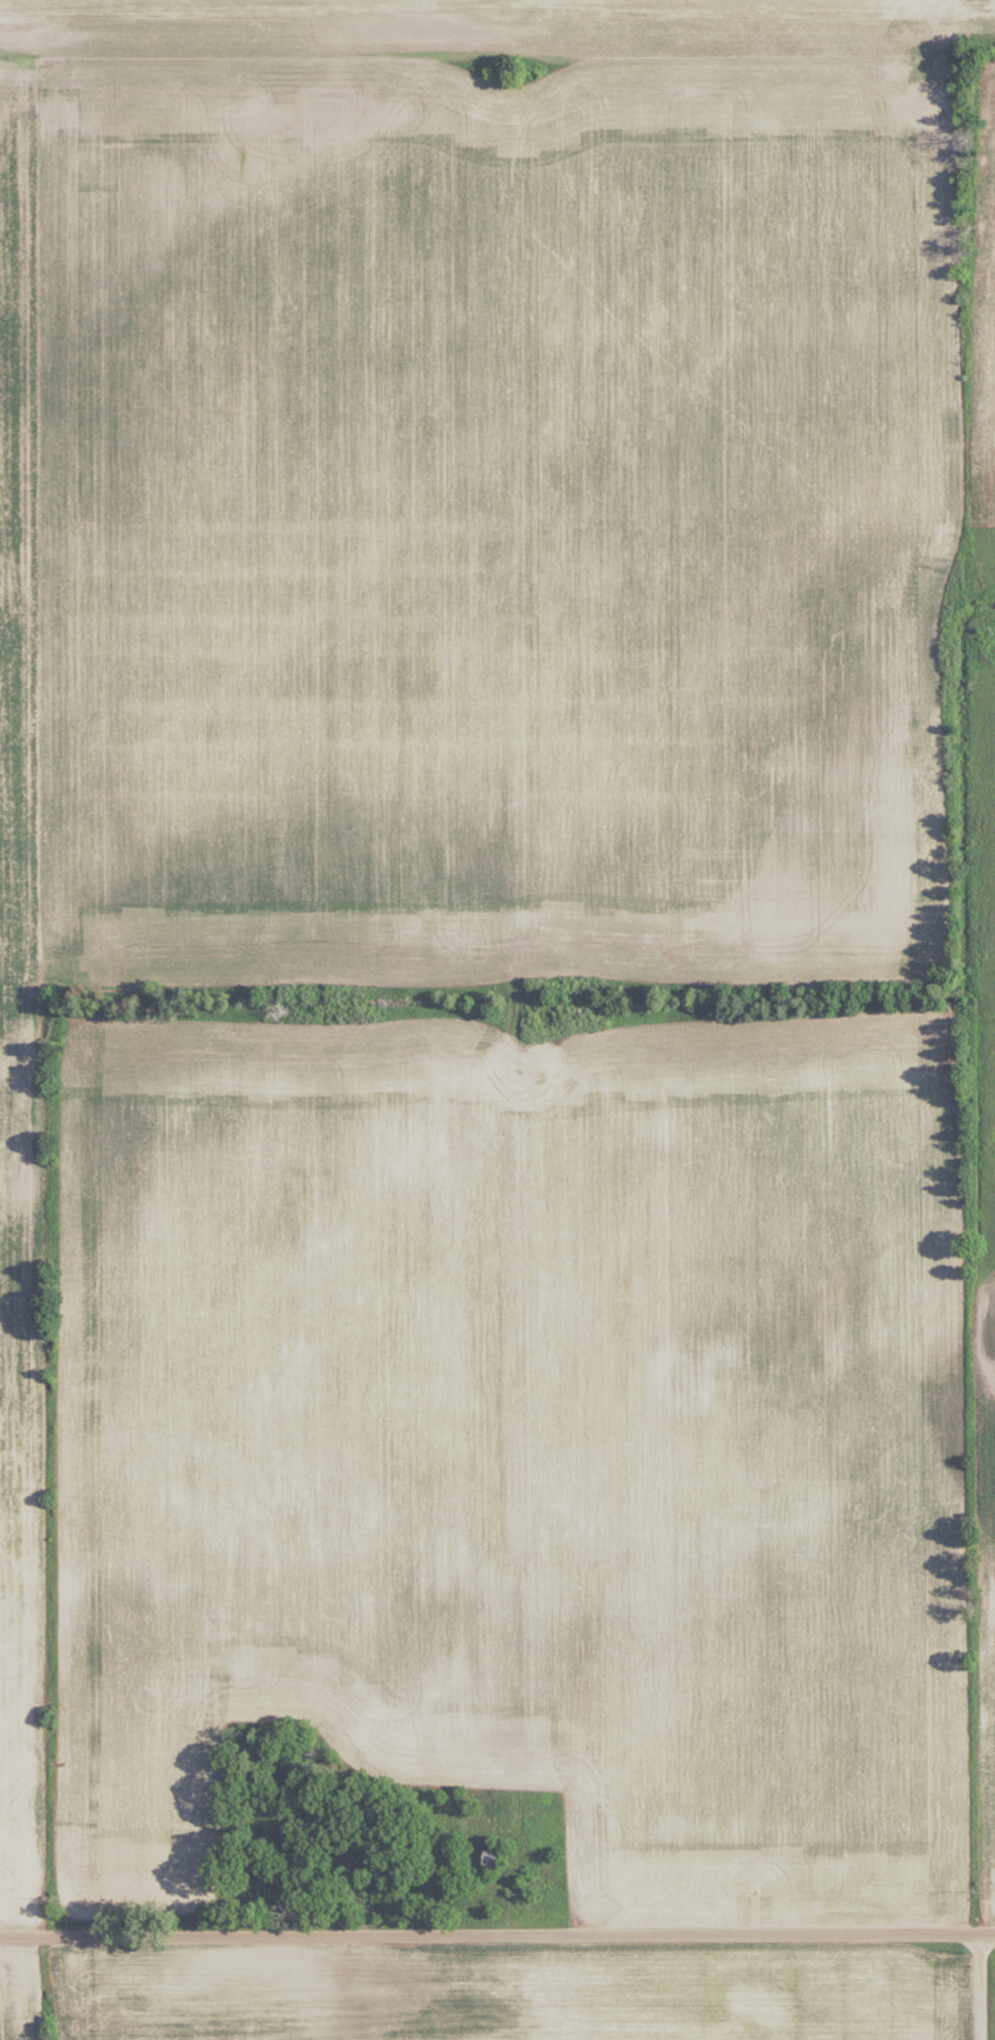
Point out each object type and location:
building: (493, 1858)
road: (497, 1937)
road: (982, 1988)

